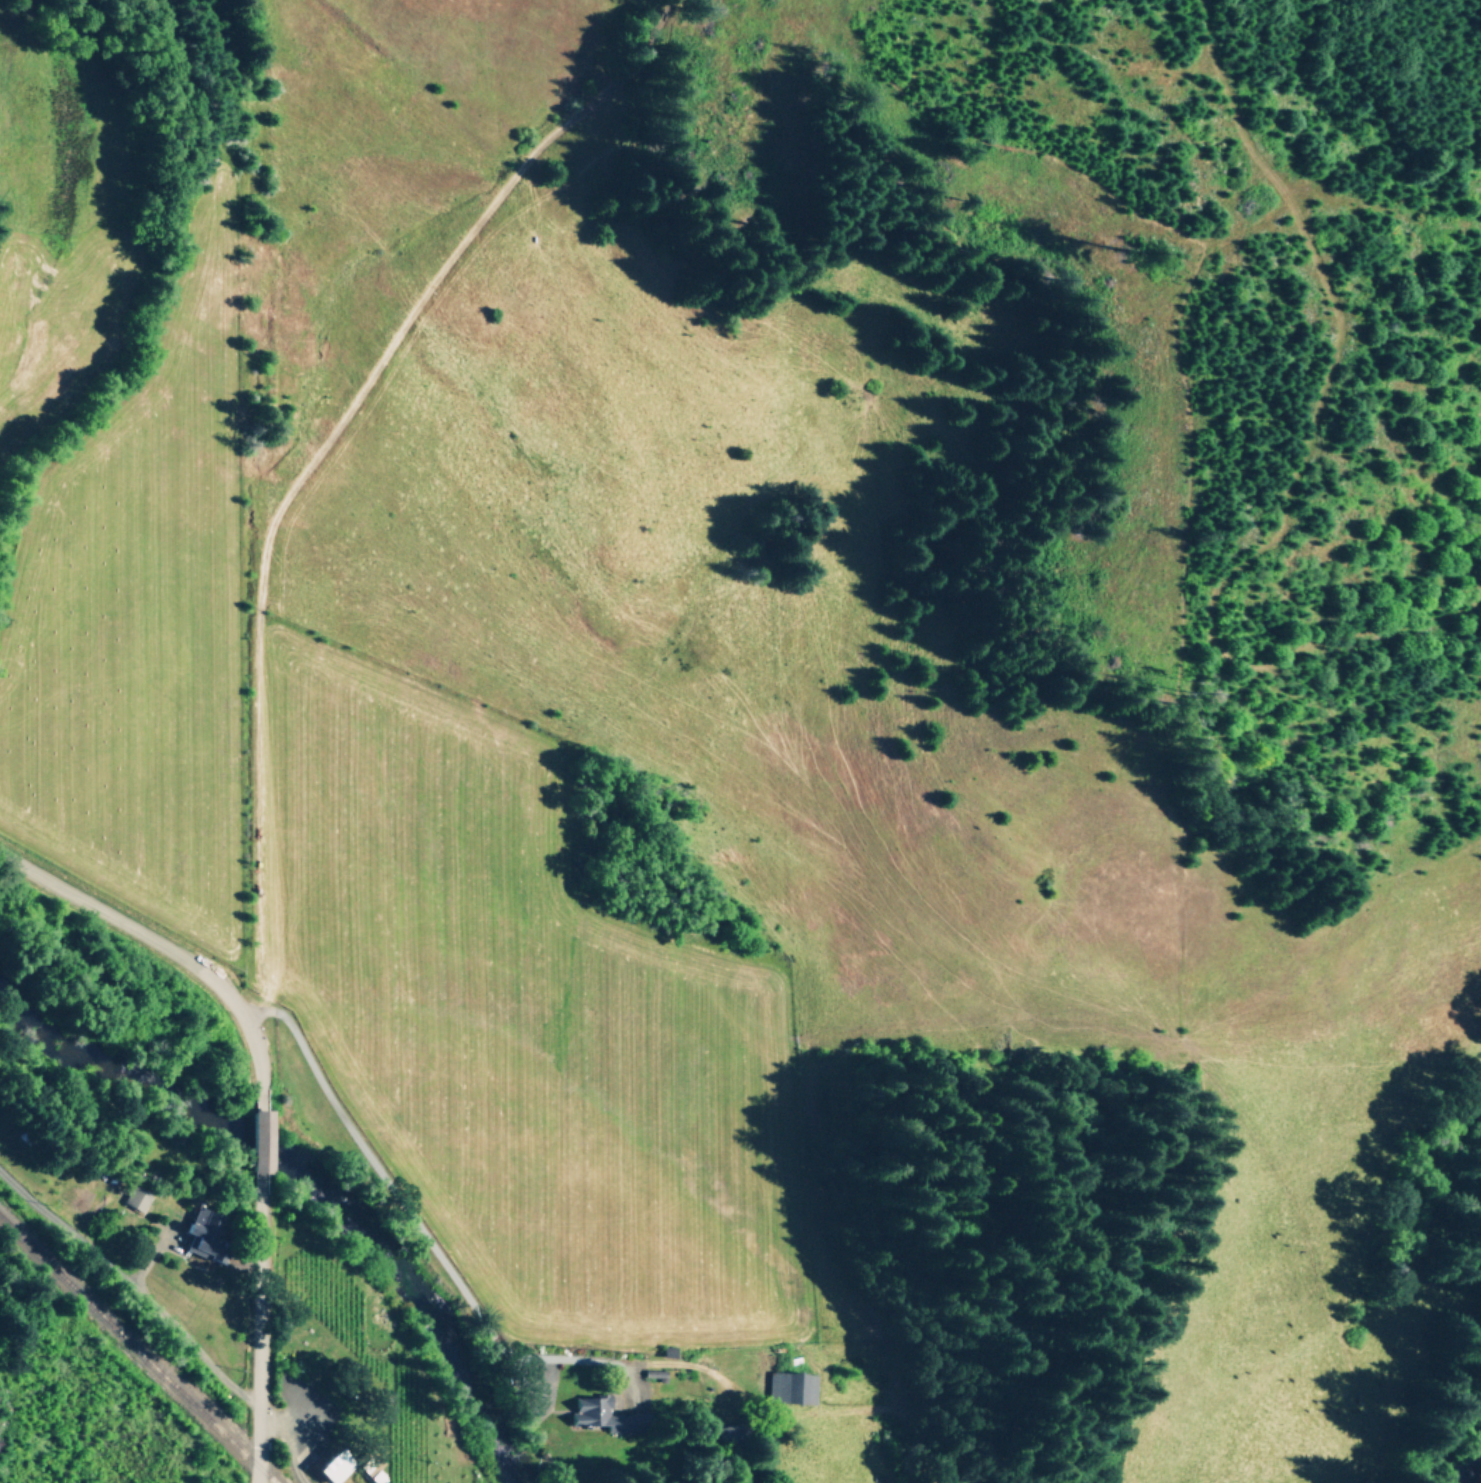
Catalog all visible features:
road: (153, 948)
road: (257, 1145)
river: (311, 1174)
building: (136, 1198)
road: (419, 1227)
road: (68, 1228)
building: (202, 1234)
road: (170, 1322)
road: (254, 1342)
railway: (134, 1351)
building: (791, 1387)
building: (605, 1415)
building: (727, 1434)
road: (280, 1443)
building: (325, 1465)
building: (371, 1468)
river: (1473, 1473)

